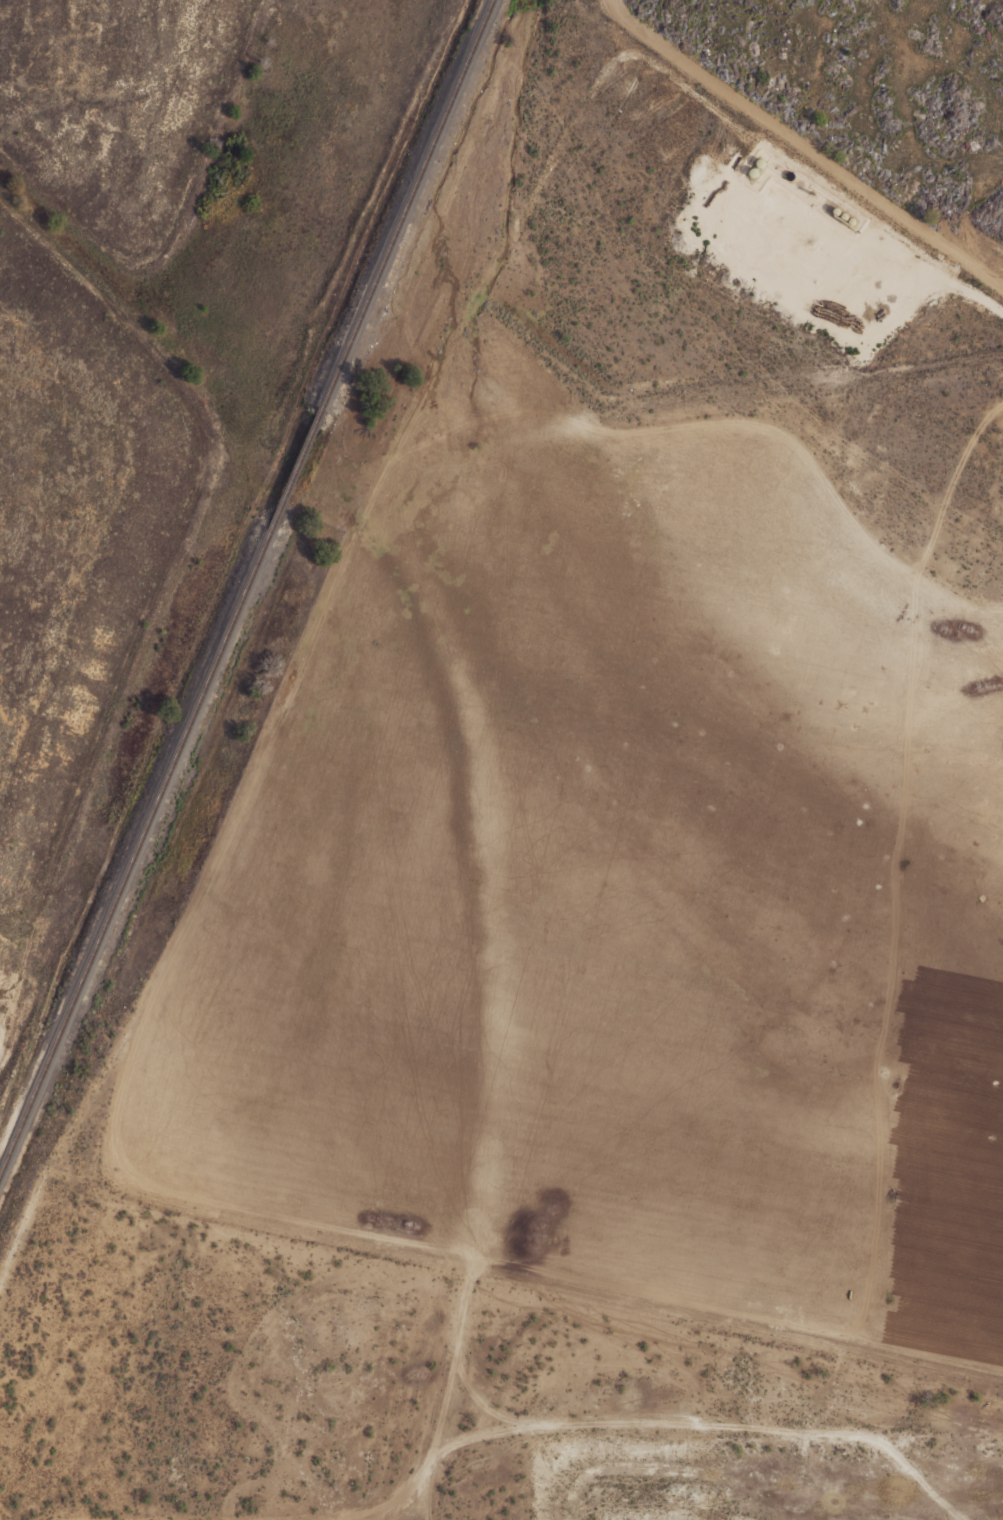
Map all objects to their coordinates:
railway: (409, 203)
road: (936, 270)
railway: (301, 452)
road: (305, 619)
railway: (140, 837)
road: (877, 1042)
road: (44, 1172)
road: (456, 1353)
road: (904, 1356)
road: (446, 1402)
road: (650, 1419)
road: (630, 1467)
road: (423, 1500)

